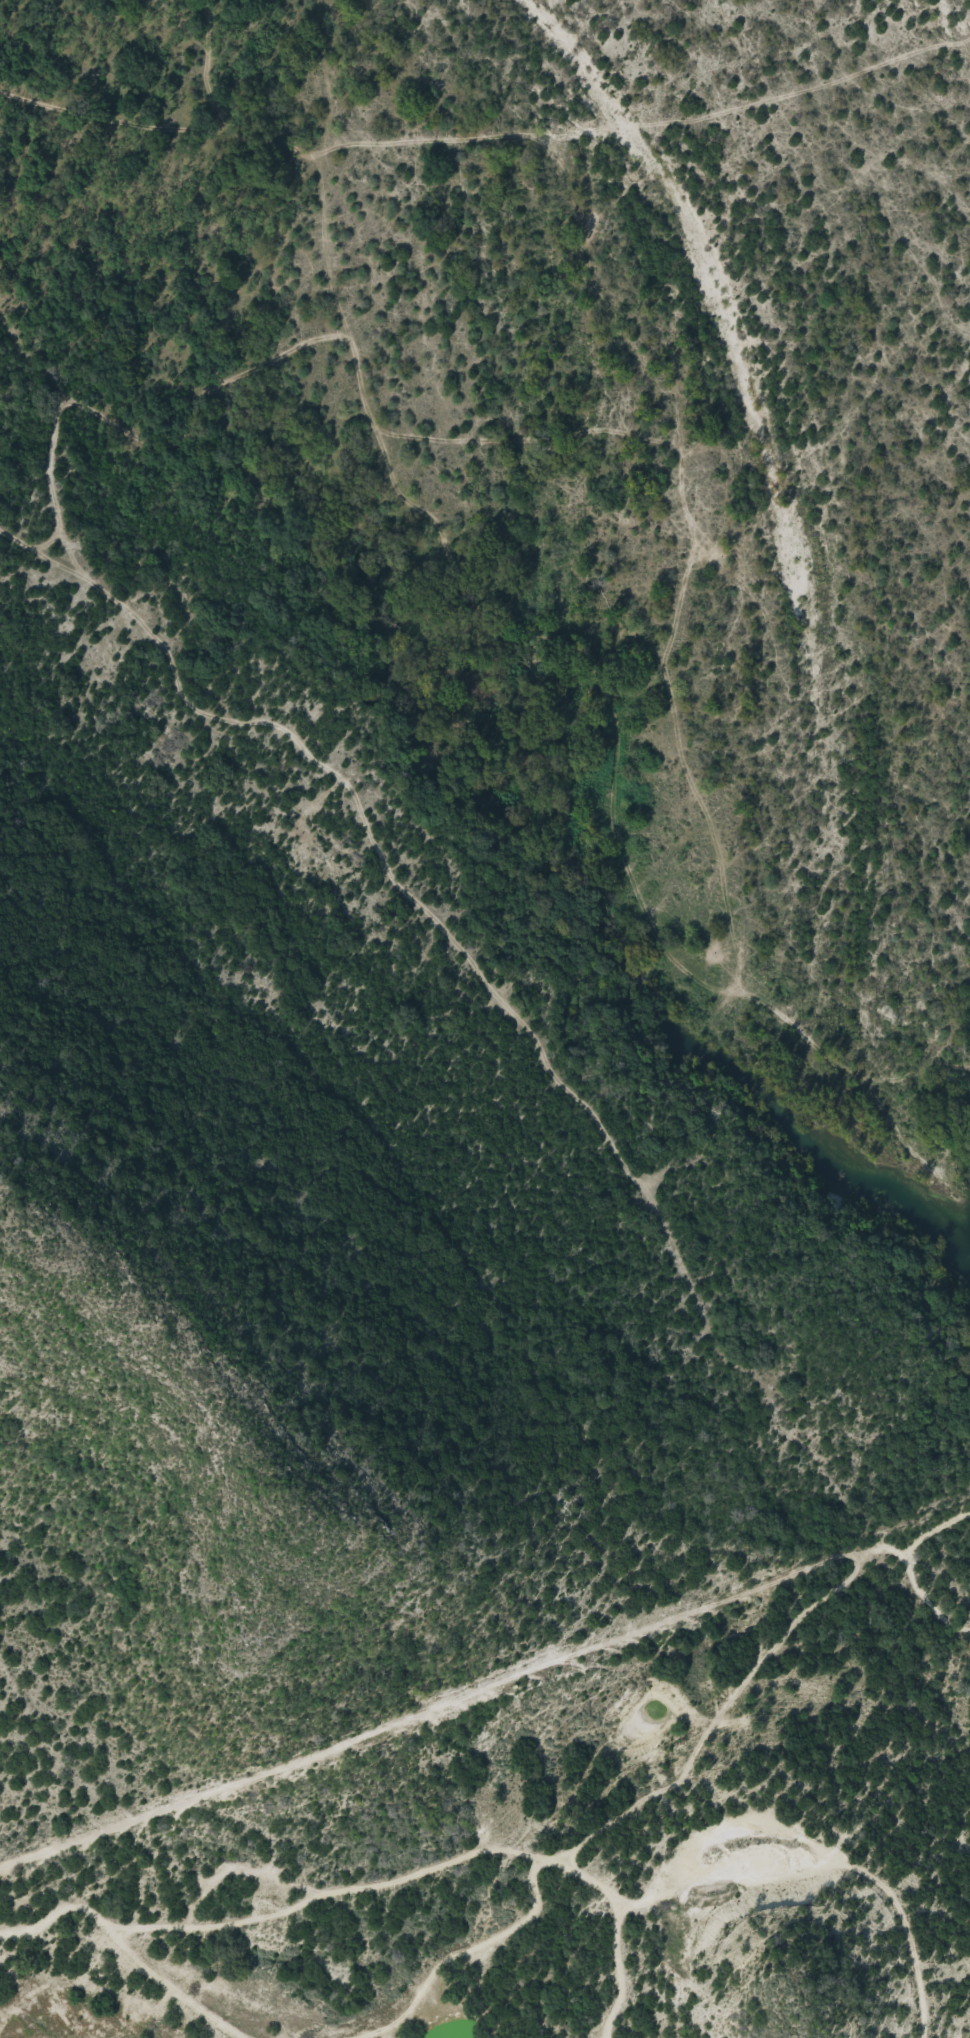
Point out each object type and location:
road: (388, 32)

